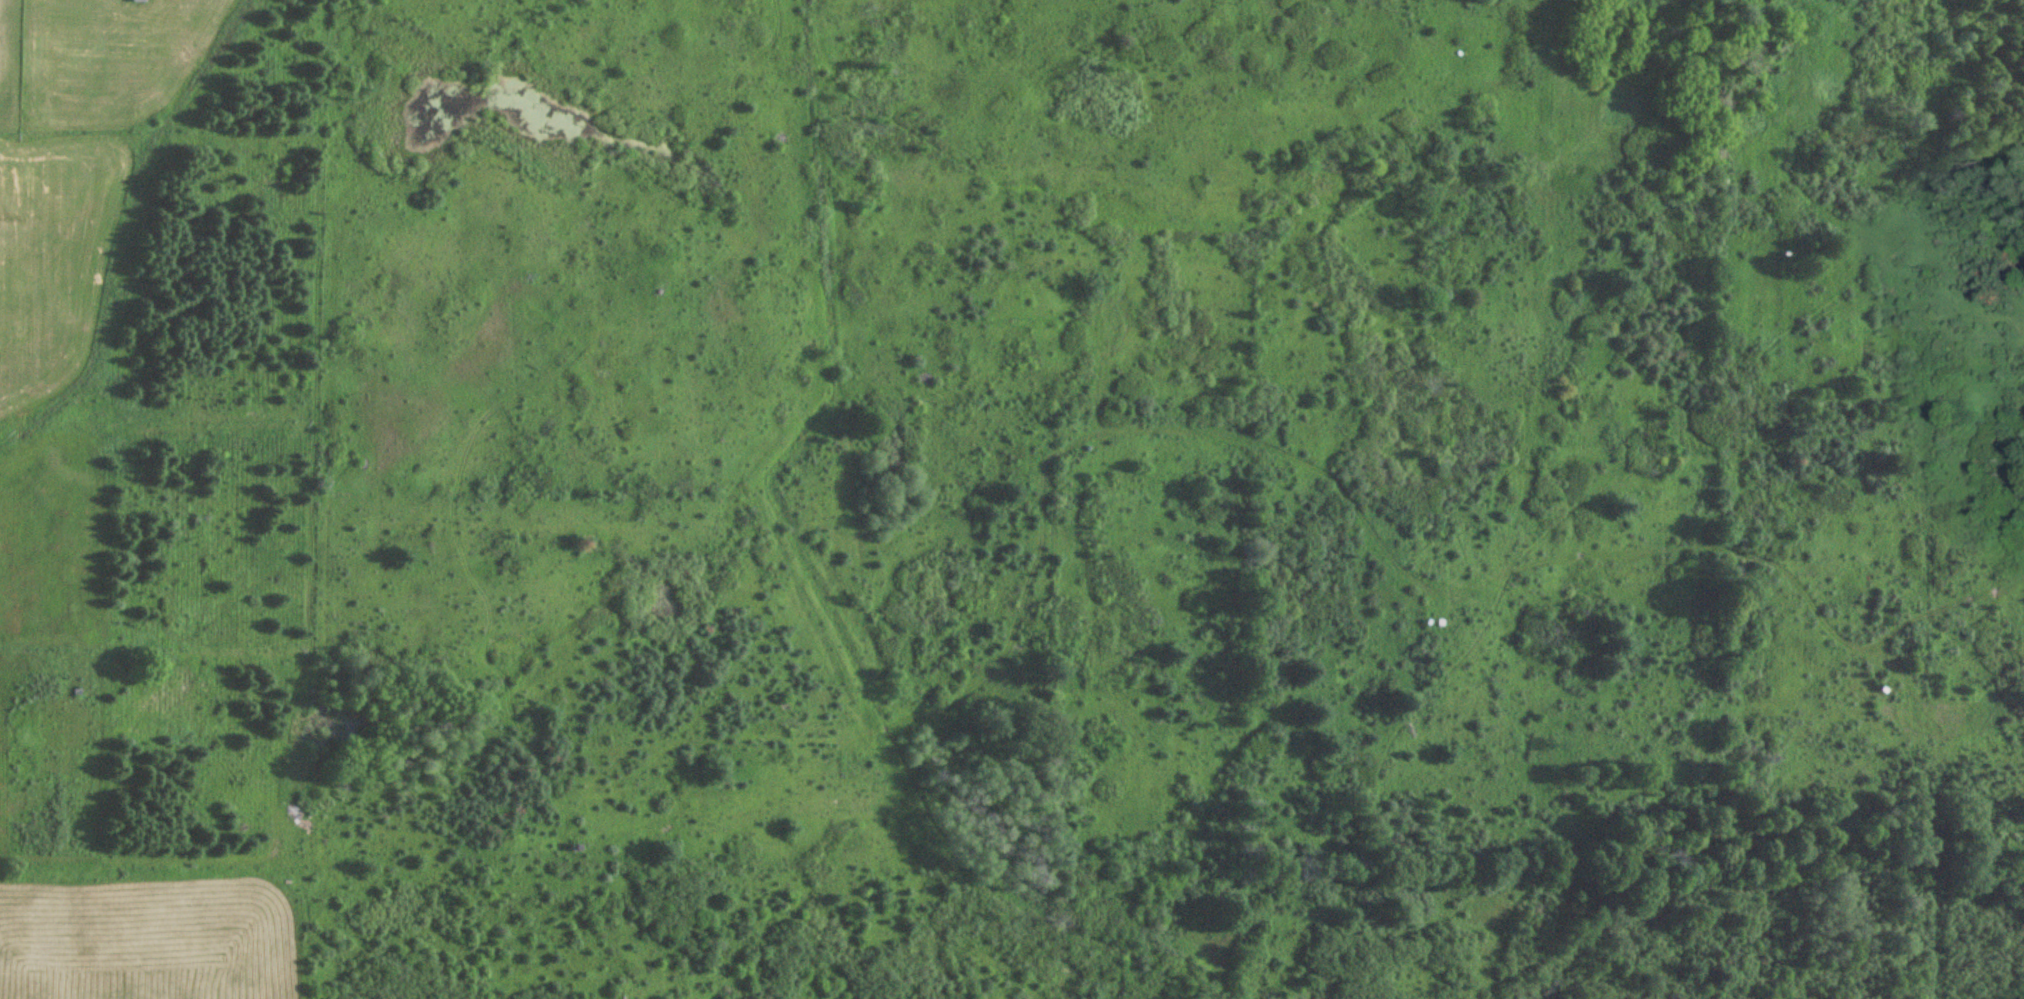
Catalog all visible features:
building: (138, 0)

